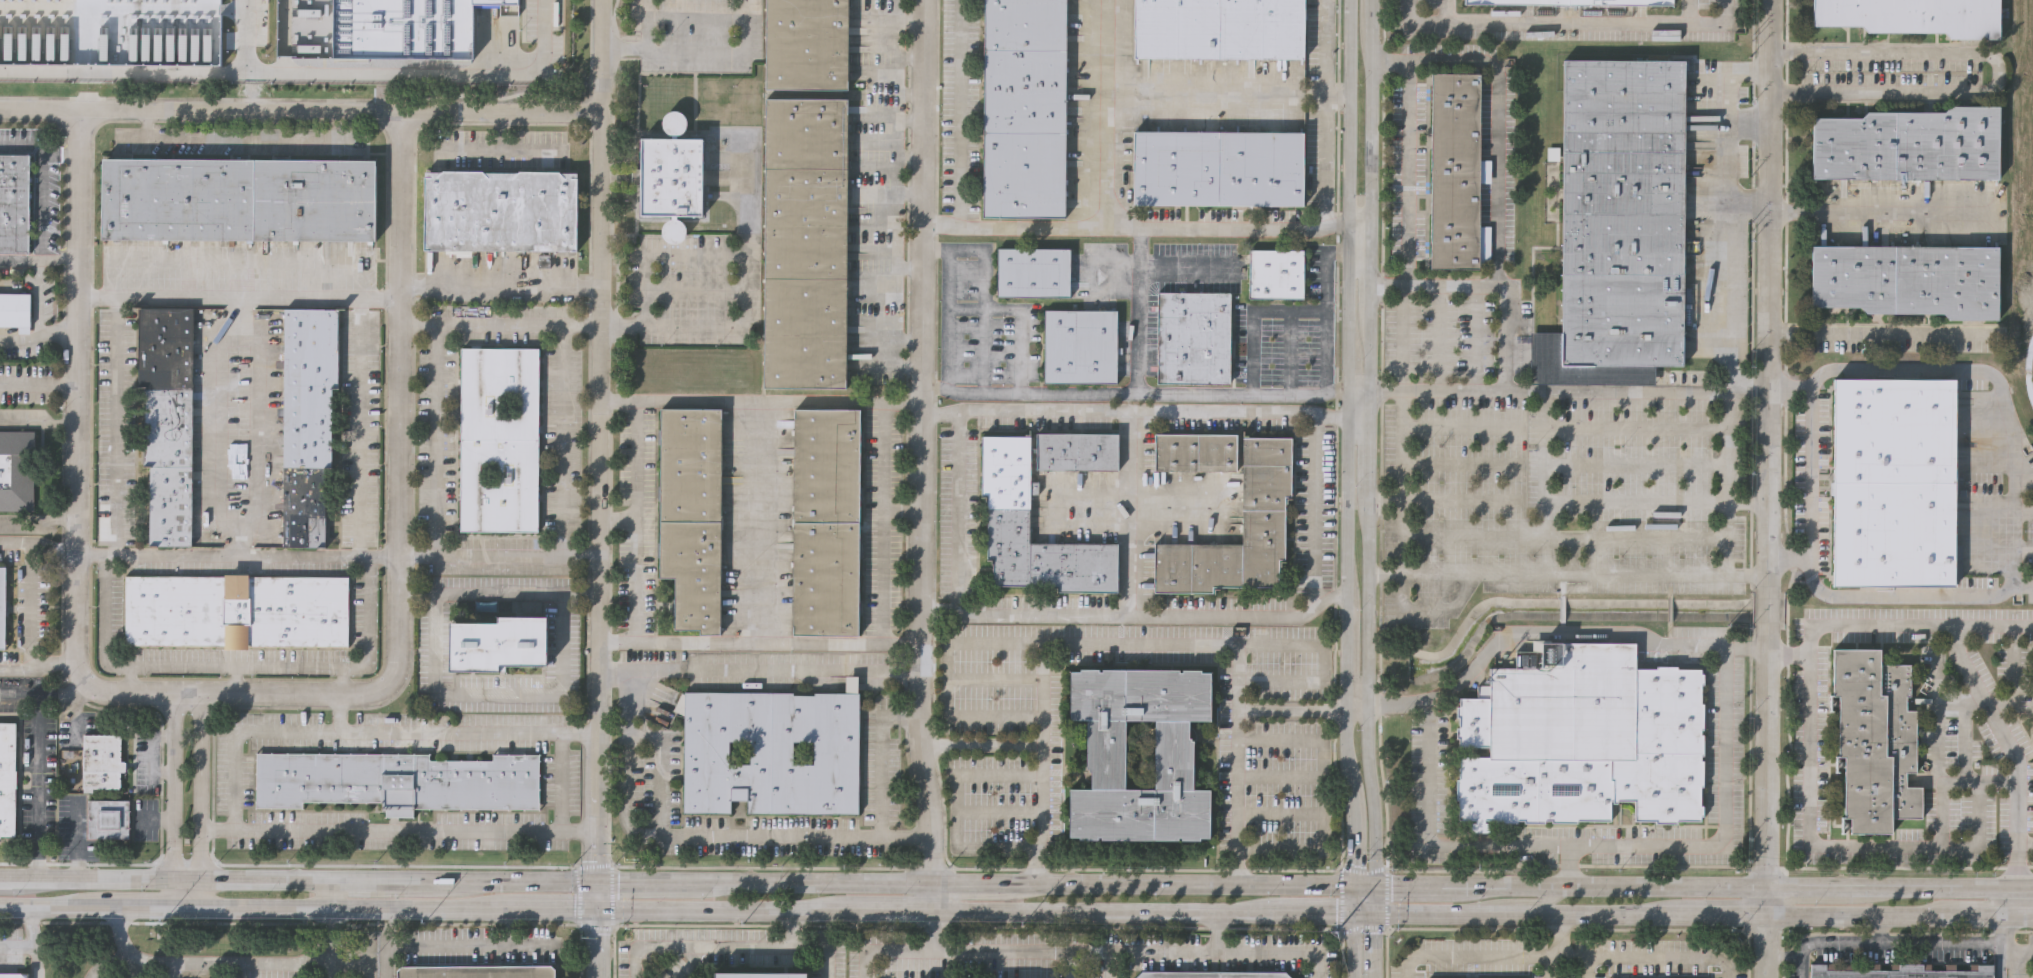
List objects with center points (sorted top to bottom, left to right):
building: (1574, 1)
road: (37, 6)
road: (1449, 9)
building: (1914, 15)
road: (1569, 19)
road: (912, 20)
road: (643, 25)
building: (404, 27)
building: (1219, 28)
building: (179, 30)
road: (285, 37)
building: (805, 43)
road: (622, 48)
road: (718, 51)
road: (912, 57)
road: (47, 72)
road: (1997, 72)
road: (166, 74)
road: (390, 76)
road: (912, 94)
road: (1219, 94)
road: (87, 96)
road: (345, 99)
building: (1025, 107)
road: (301, 110)
road: (912, 119)
road: (147, 122)
road: (1499, 130)
road: (253, 137)
building: (1909, 143)
road: (22, 145)
road: (490, 150)
road: (531, 150)
road: (60, 153)
road: (912, 158)
building: (1216, 166)
building: (1450, 168)
building: (671, 175)
road: (912, 192)
road: (1091, 195)
building: (240, 197)
building: (15, 201)
road: (1748, 202)
road: (39, 206)
road: (900, 206)
road: (1406, 208)
building: (502, 209)
road: (1883, 212)
road: (1219, 224)
road: (1359, 224)
building: (1617, 225)
building: (807, 242)
road: (658, 255)
road: (38, 260)
road: (1186, 264)
road: (912, 267)
building: (1034, 270)
building: (1277, 270)
building: (1908, 280)
road: (1388, 282)
road: (500, 285)
road: (2, 287)
road: (1506, 288)
road: (39, 292)
road: (239, 297)
road: (1727, 299)
road: (741, 307)
building: (17, 308)
road: (1137, 308)
road: (1325, 309)
road: (1250, 314)
road: (500, 322)
road: (1016, 324)
road: (39, 332)
building: (1194, 335)
road: (1878, 335)
road: (911, 338)
road: (19, 340)
road: (58, 340)
building: (1081, 344)
road: (911, 366)
road: (1935, 369)
road: (39, 383)
road: (1357, 390)
road: (1568, 391)
road: (1241, 394)
road: (617, 399)
road: (658, 399)
road: (1134, 409)
road: (38, 414)
building: (307, 419)
building: (169, 420)
road: (1357, 421)
road: (223, 424)
road: (360, 425)
road: (258, 427)
road: (1617, 428)
building: (499, 438)
road: (436, 439)
road: (564, 440)
road: (599, 440)
road: (922, 440)
road: (1345, 442)
road: (1769, 442)
road: (1367, 444)
building: (1077, 452)
road: (77, 453)
building: (1195, 453)
building: (17, 468)
road: (1807, 479)
building: (1891, 480)
road: (400, 493)
road: (1403, 499)
road: (1385, 502)
road: (1601, 502)
road: (1748, 506)
road: (957, 508)
road: (903, 512)
road: (1134, 512)
building: (692, 514)
building: (1008, 517)
road: (38, 518)
building: (1263, 518)
road: (617, 519)
road: (2010, 520)
road: (767, 521)
building: (827, 521)
road: (884, 522)
road: (1312, 526)
road: (38, 545)
road: (238, 553)
road: (499, 556)
road: (1585, 573)
road: (1892, 595)
road: (30, 605)
building: (2, 606)
building: (236, 608)
road: (1117, 614)
road: (1905, 623)
road: (1555, 633)
road: (759, 641)
road: (1139, 641)
building: (497, 643)
road: (1290, 643)
road: (108, 662)
road: (39, 666)
road: (760, 668)
road: (132, 676)
road: (436, 676)
road: (237, 677)
road: (946, 677)
road: (343, 678)
road: (1984, 703)
road: (1961, 704)
road: (1292, 709)
road: (1353, 709)
road: (237, 729)
road: (449, 731)
building: (1875, 738)
building: (1582, 740)
road: (982, 745)
road: (1937, 748)
building: (771, 752)
building: (1102, 754)
road: (881, 755)
road: (1319, 757)
building: (103, 758)
road: (37, 759)
building: (8, 776)
building: (394, 780)
road: (562, 781)
road: (1958, 784)
road: (201, 786)
road: (173, 788)
road: (958, 807)
building: (110, 817)
road: (1726, 822)
road: (398, 828)
road: (1319, 831)
road: (673, 834)
road: (905, 837)
road: (80, 841)
road: (1881, 846)
road: (2025, 846)
road: (1446, 848)
road: (18, 878)
road: (187, 878)
road: (397, 879)
road: (526, 879)
traffic signals: (596, 880)
road: (656, 880)
road: (822, 880)
road: (982, 881)
road: (1188, 883)
traffic signals: (1340, 885)
road: (1354, 886)
road: (1618, 886)
road: (1826, 886)
road: (1418, 887)
road: (1950, 887)
traffic signals: (1368, 888)
road: (2024, 888)
road: (191, 894)
road: (338, 894)
road: (928, 897)
road: (2014, 902)
road: (1539, 904)
road: (52, 908)
road: (148, 908)
road: (293, 909)
traffic signals: (598, 913)
road: (1214, 913)
traffic signals: (1340, 915)
traffic signals: (1367, 917)
road: (36, 928)
road: (598, 928)
road: (790, 928)
road: (388, 929)
road: (929, 930)
road: (1340, 931)
road: (1768, 931)
road: (1367, 932)
road: (1217, 933)
road: (2001, 940)
road: (330, 943)
road: (730, 943)
road: (118, 946)
road: (455, 946)
road: (32, 947)
road: (1878, 947)
road: (2014, 947)
road: (885, 948)
road: (1008, 949)
road: (1209, 951)
road: (2023, 951)
road: (1655, 953)
road: (1088, 954)
road: (1493, 955)
road: (1784, 955)
road: (357, 960)
road: (222, 962)
road: (2001, 962)
road: (1589, 965)
road: (1545, 967)
building: (475, 971)
building: (1899, 971)
building: (12, 975)
building: (760, 975)
building: (1212, 975)

